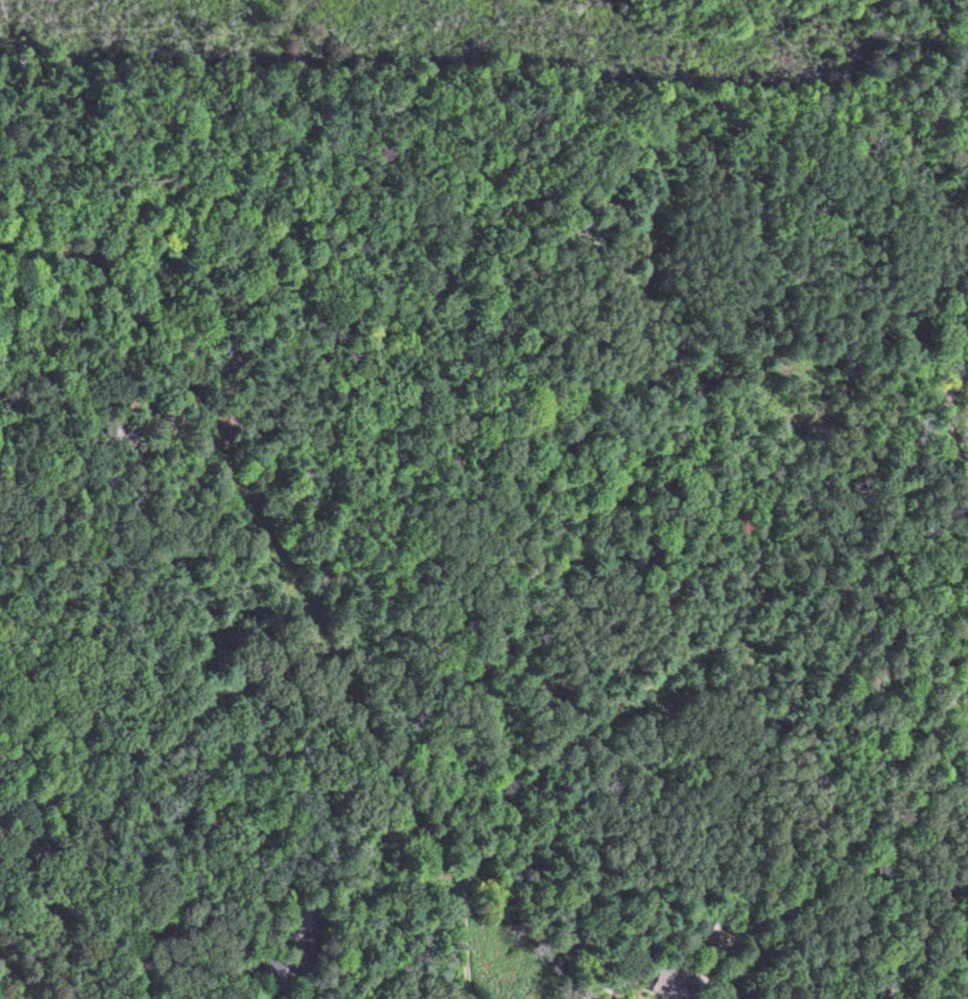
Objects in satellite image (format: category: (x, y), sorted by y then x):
road: (167, 365)
building: (134, 405)
road: (661, 422)
road: (954, 443)
road: (635, 703)
road: (863, 796)
road: (900, 839)
building: (306, 915)
road: (459, 940)
building: (673, 982)

